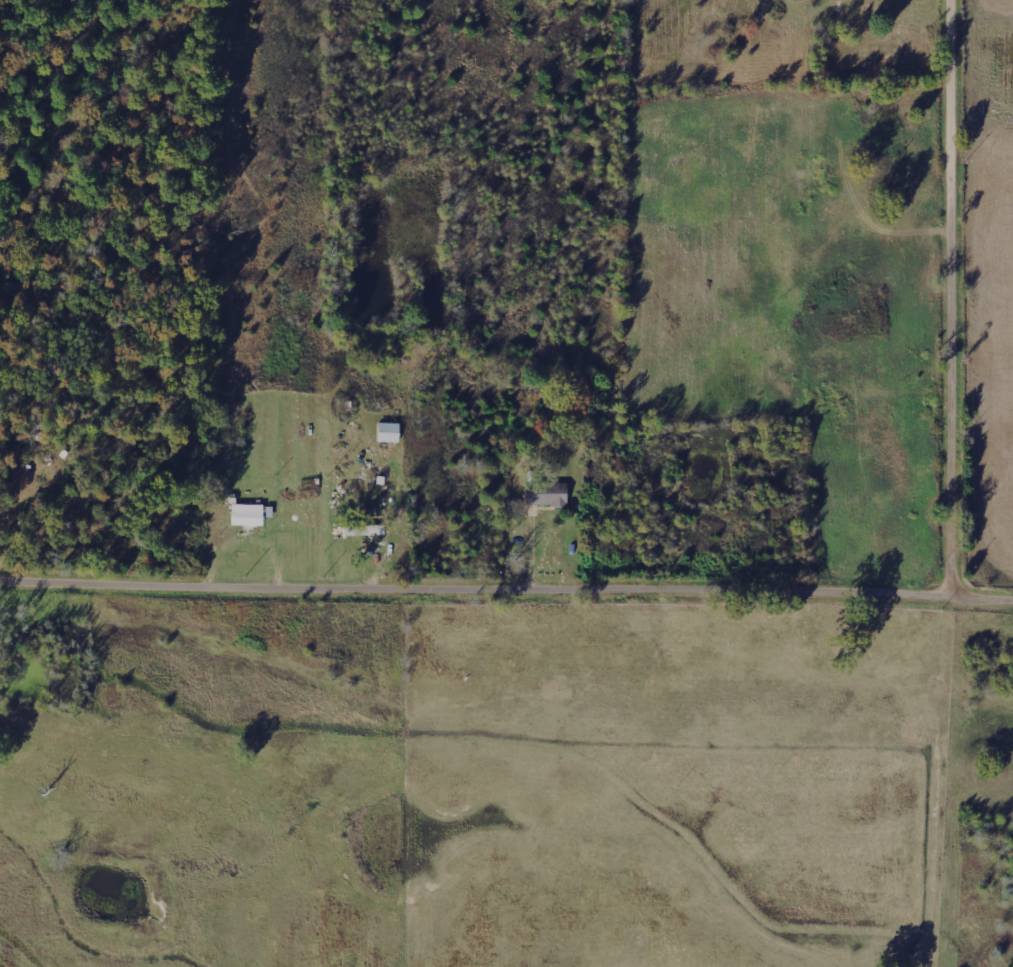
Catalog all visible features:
road: (958, 298)
building: (389, 431)
building: (547, 493)
building: (248, 513)
building: (364, 529)
road: (506, 590)
road: (943, 896)

